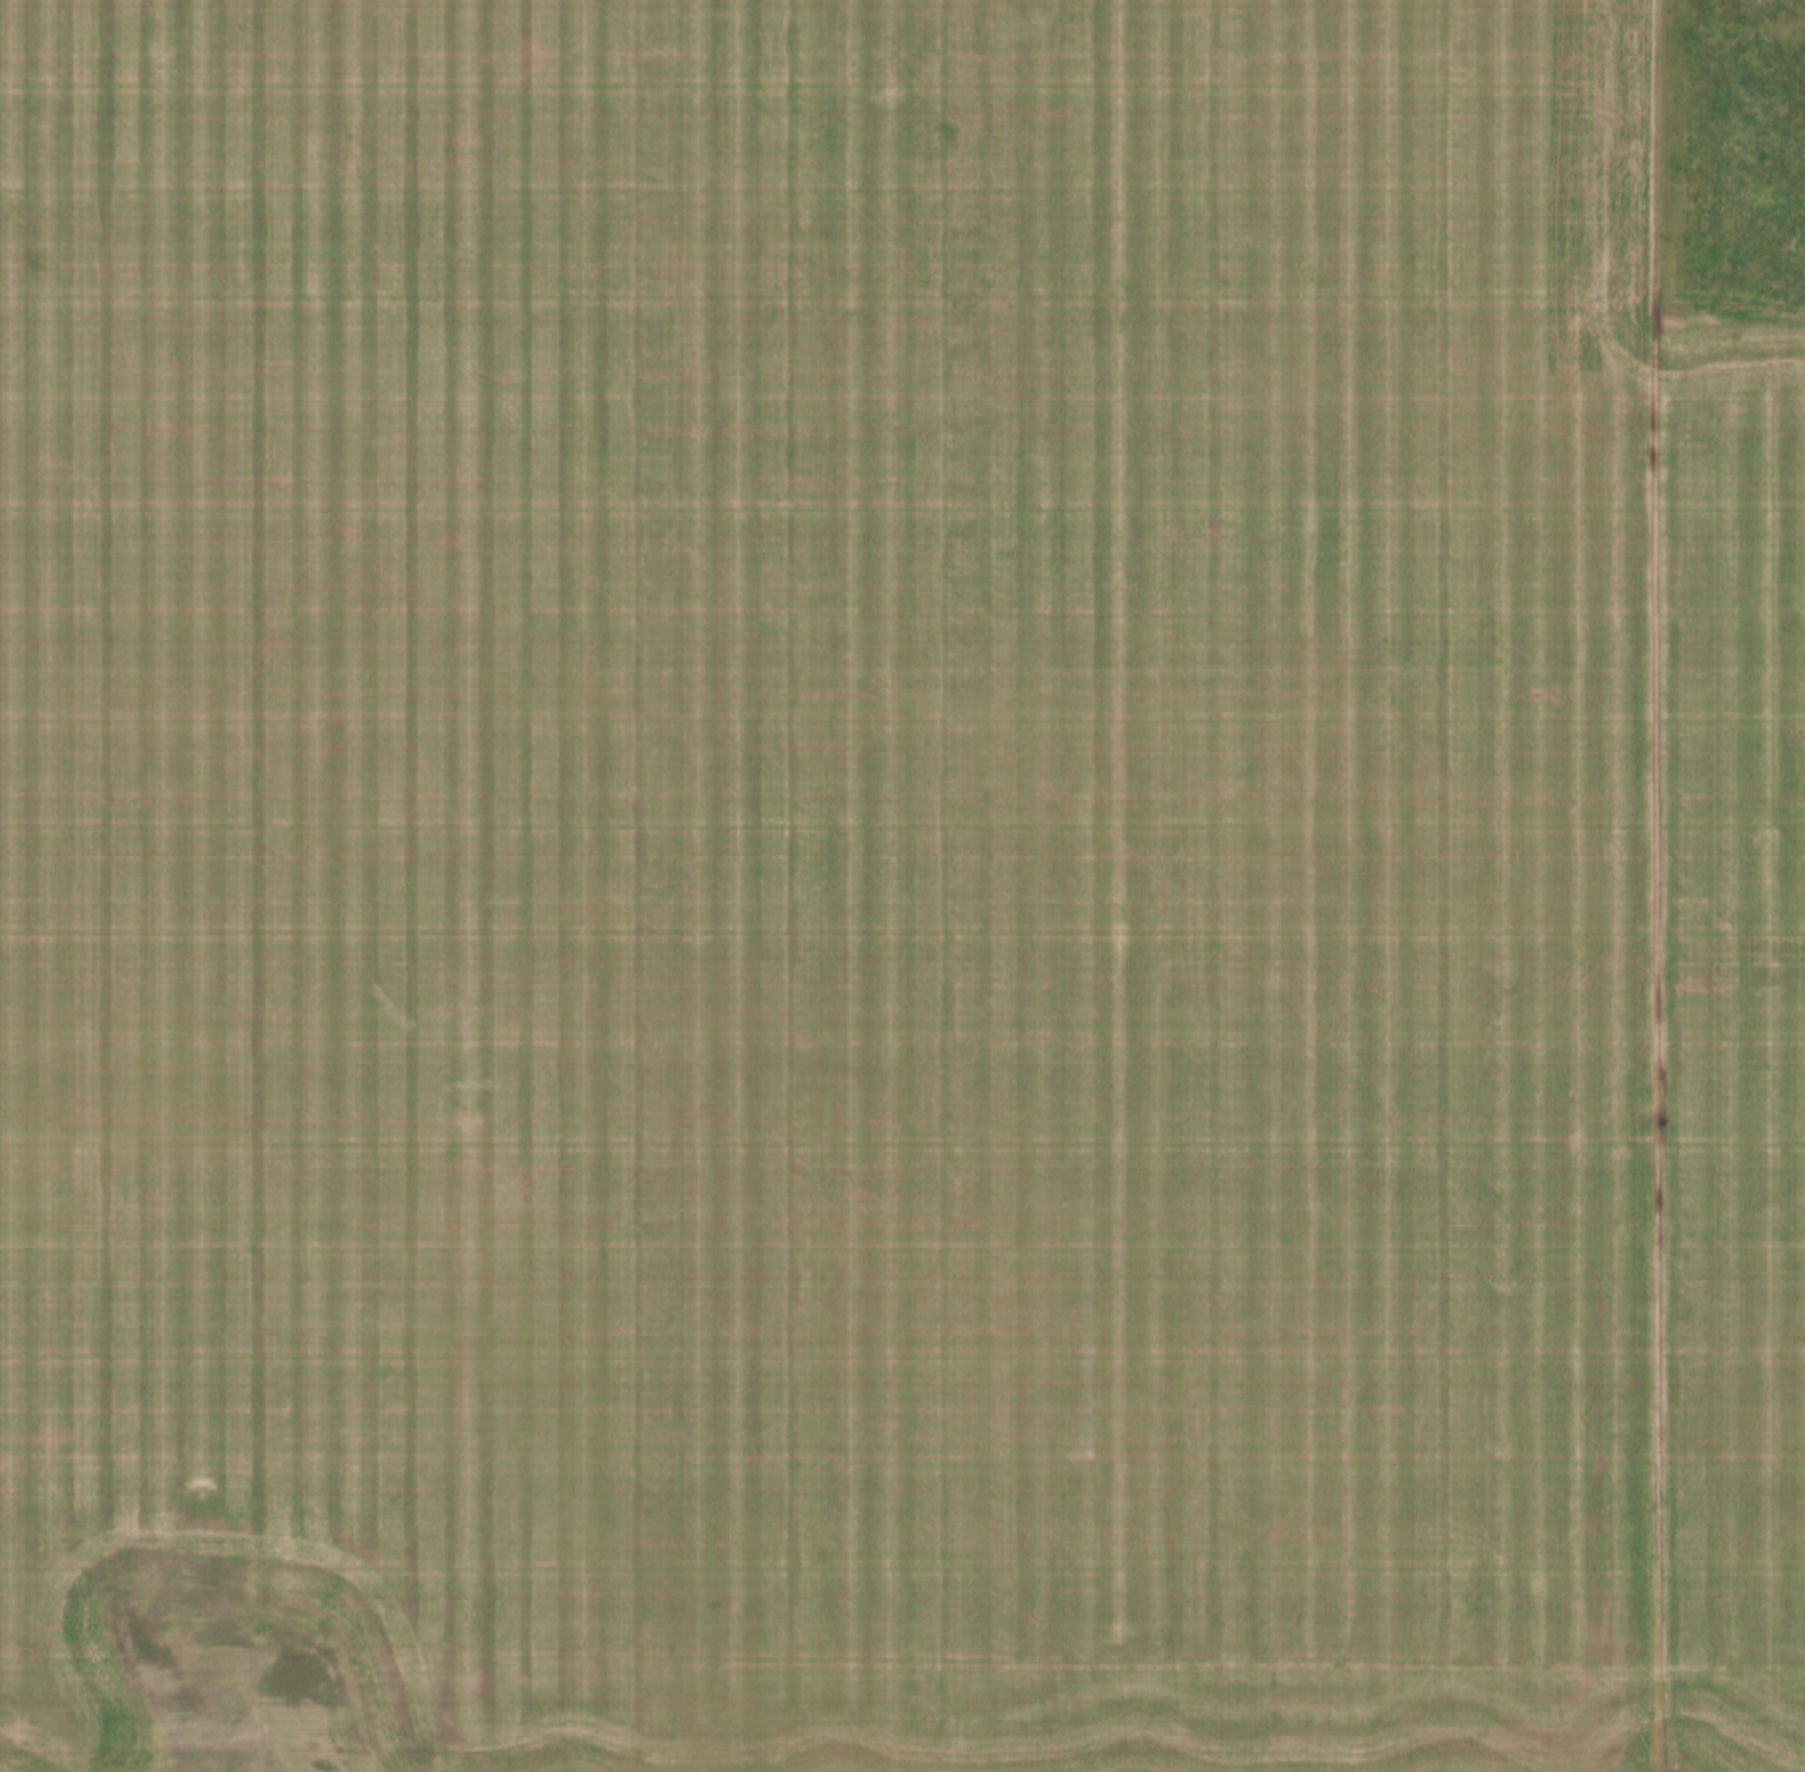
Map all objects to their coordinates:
road: (1657, 885)

